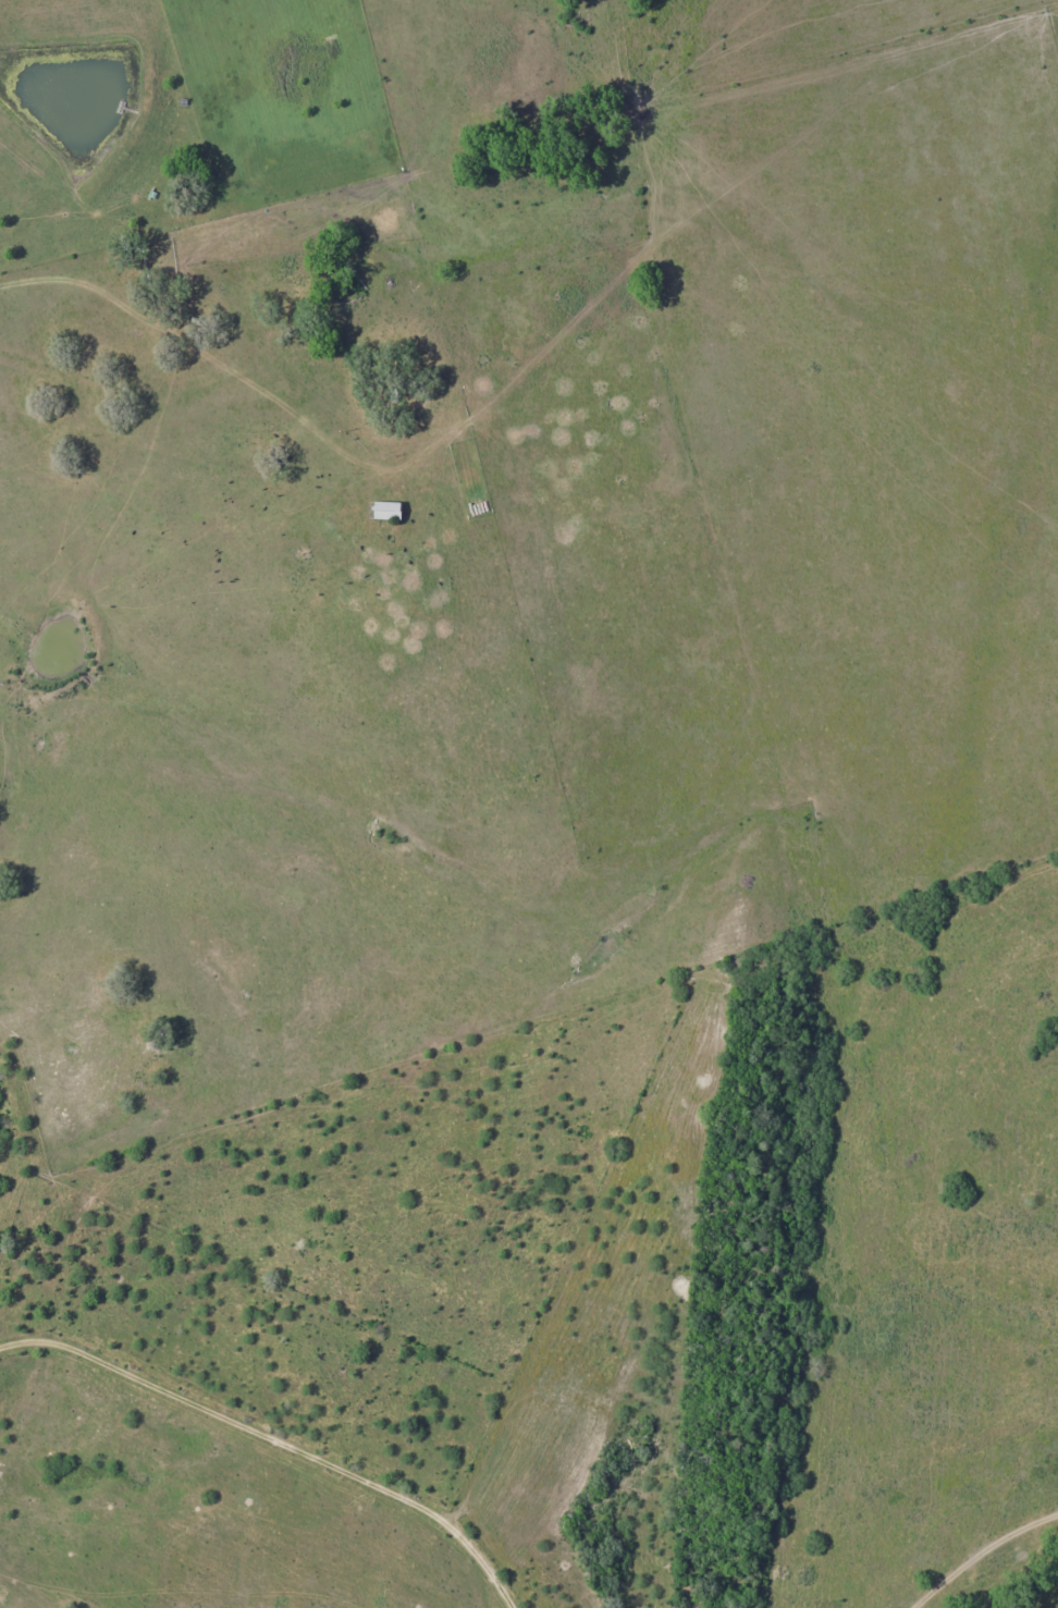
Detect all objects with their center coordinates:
building: (384, 511)

